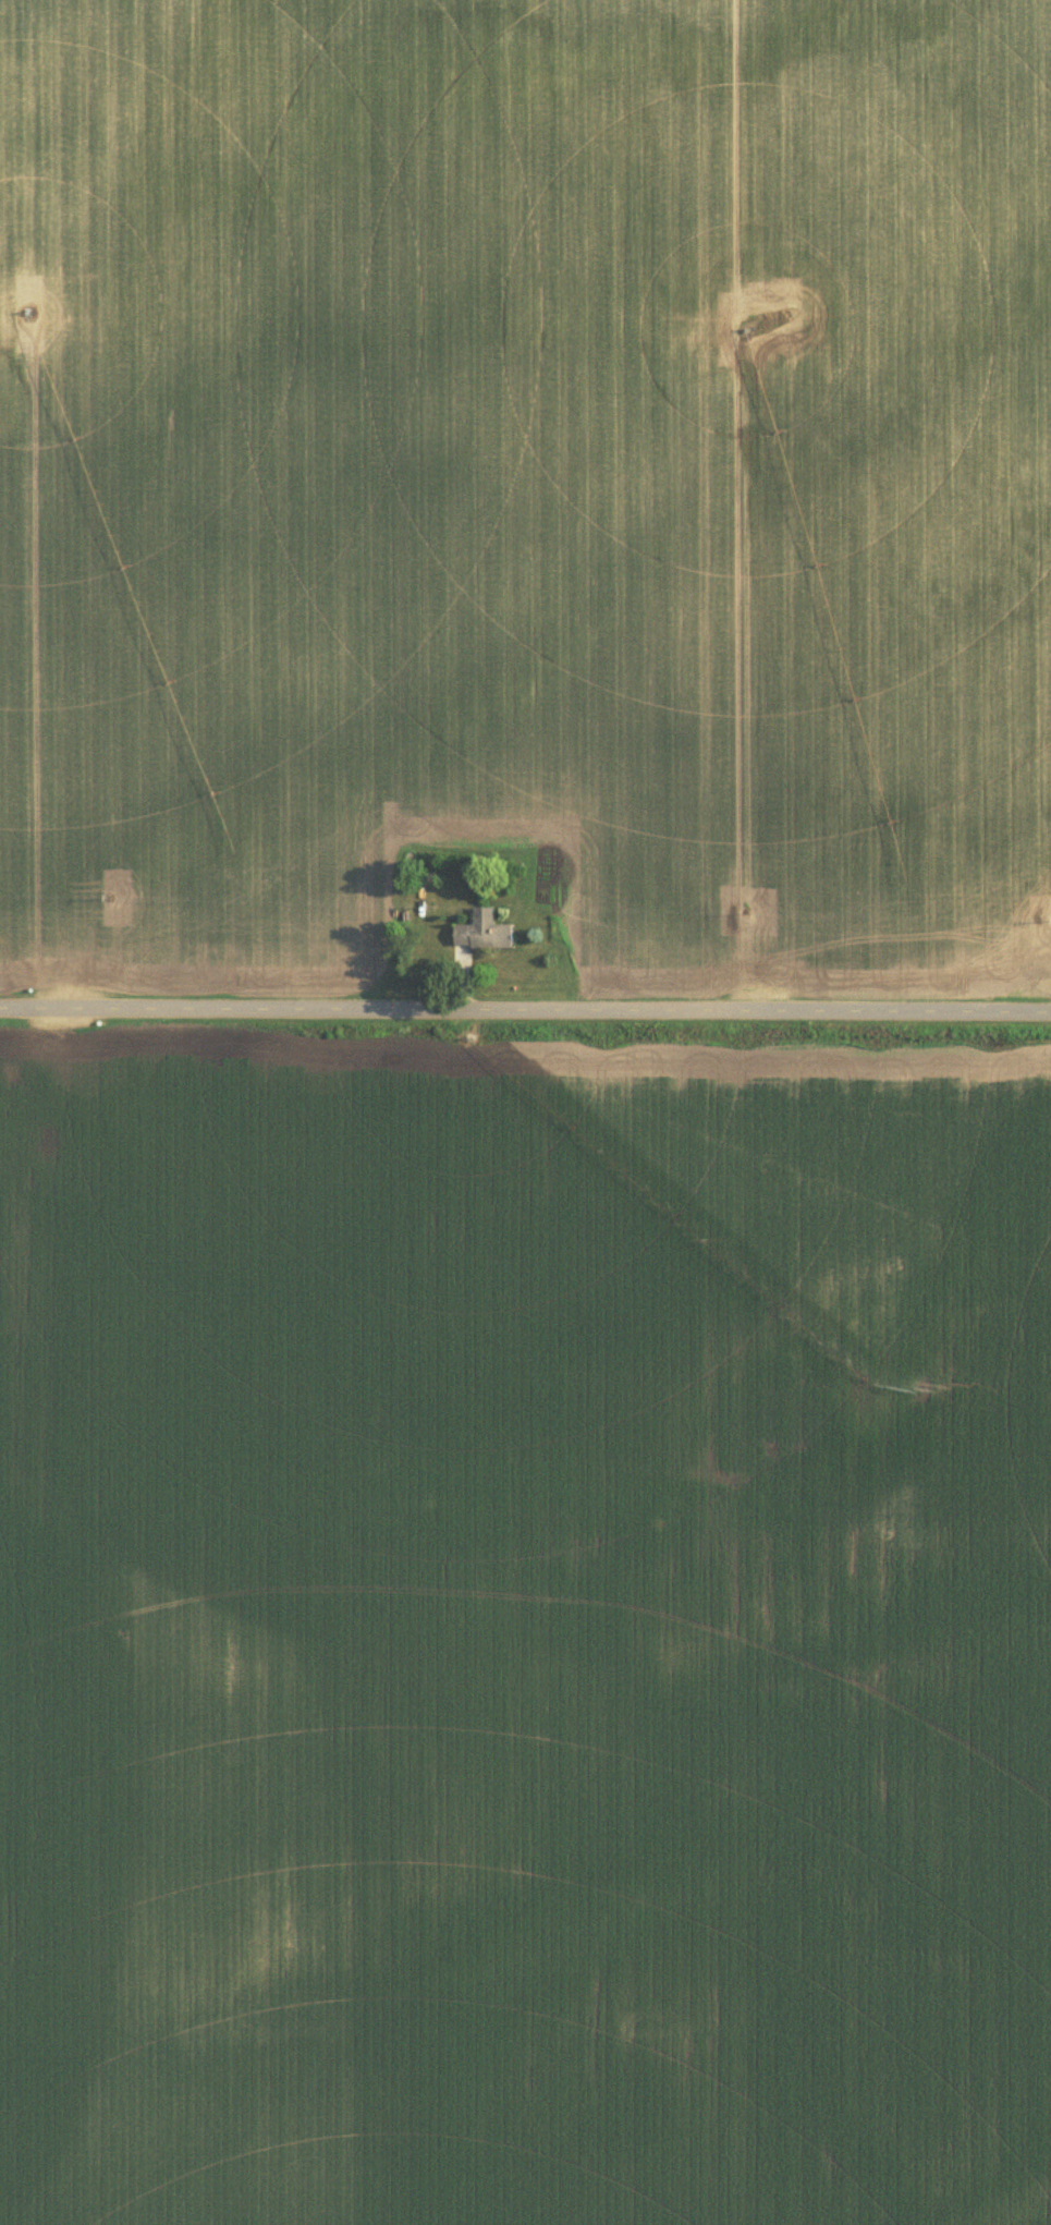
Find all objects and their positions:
crop: (522, 477)
building: (484, 928)
road: (525, 1010)
crop: (523, 1645)

